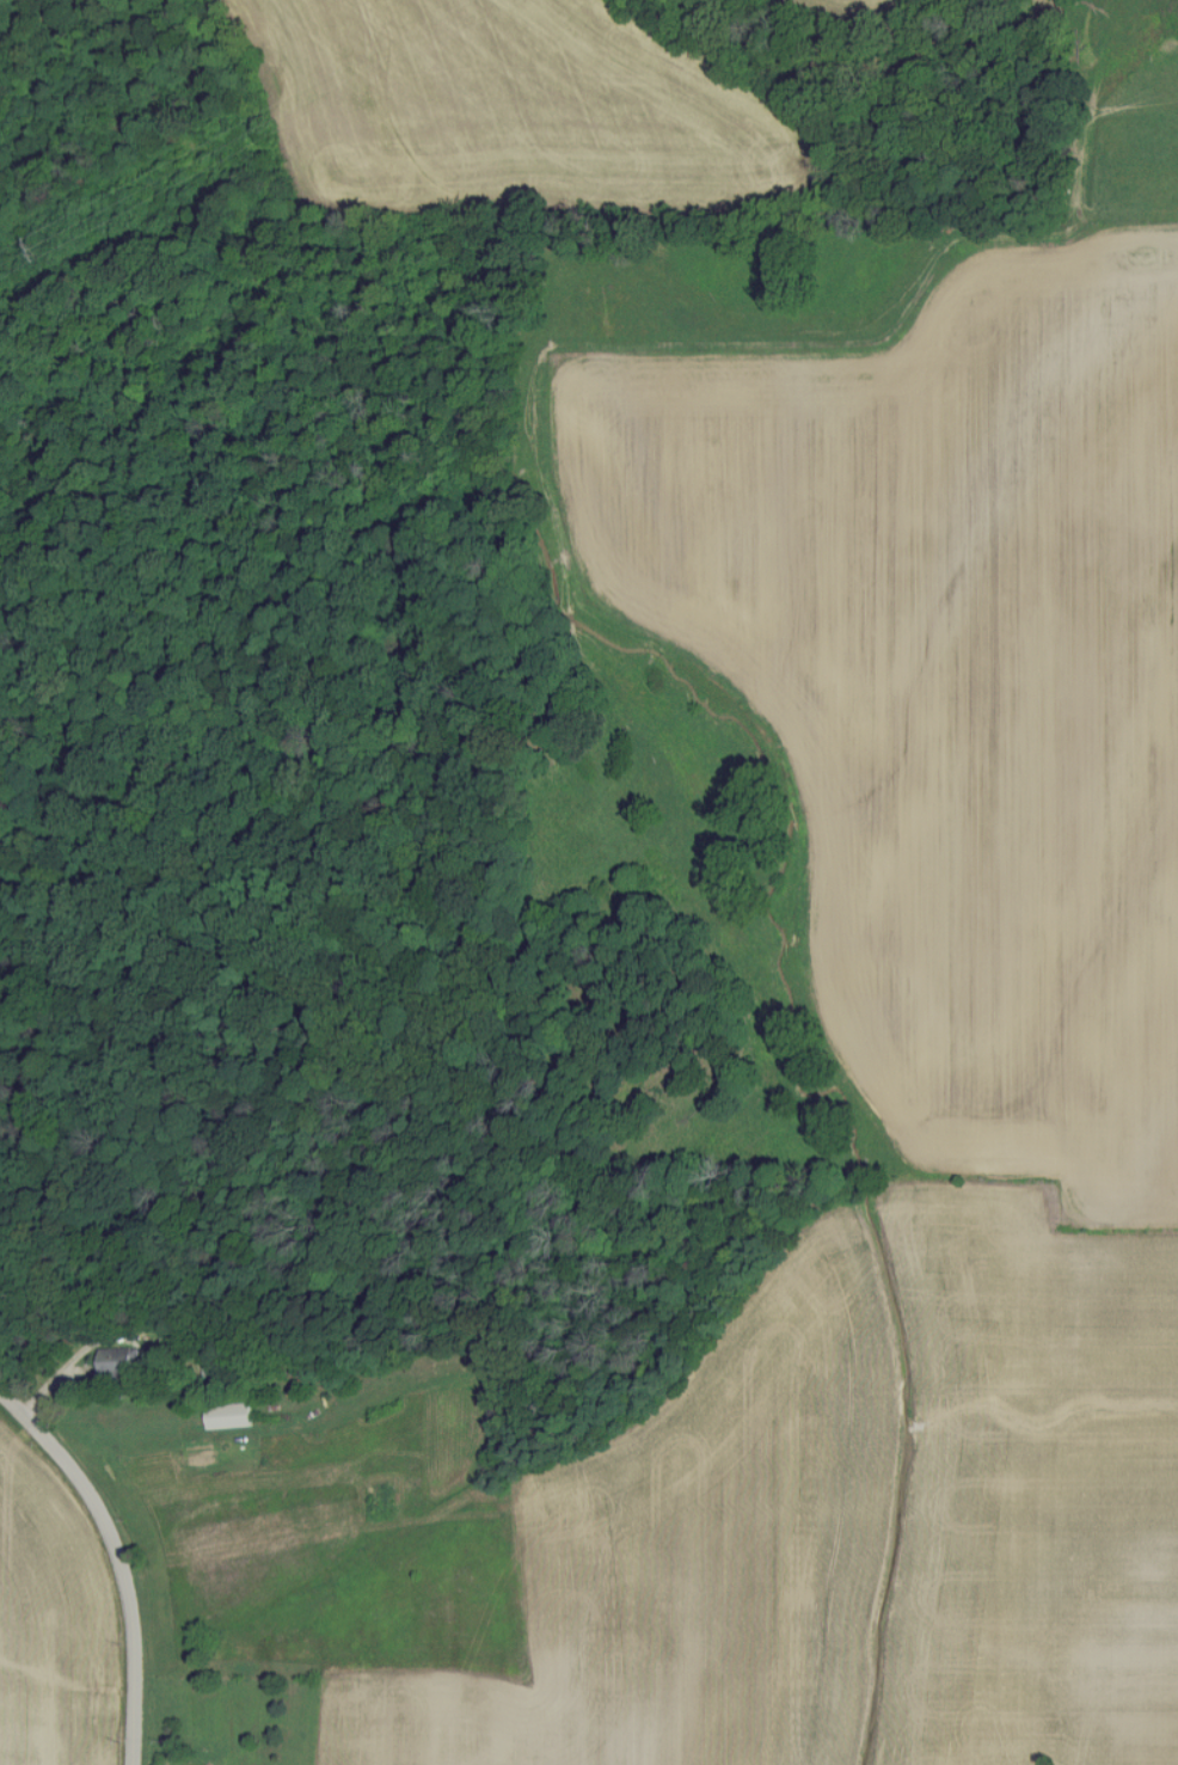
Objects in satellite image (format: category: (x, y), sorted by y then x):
road: (116, 1336)
building: (119, 1362)
building: (231, 1416)
road: (131, 1542)

